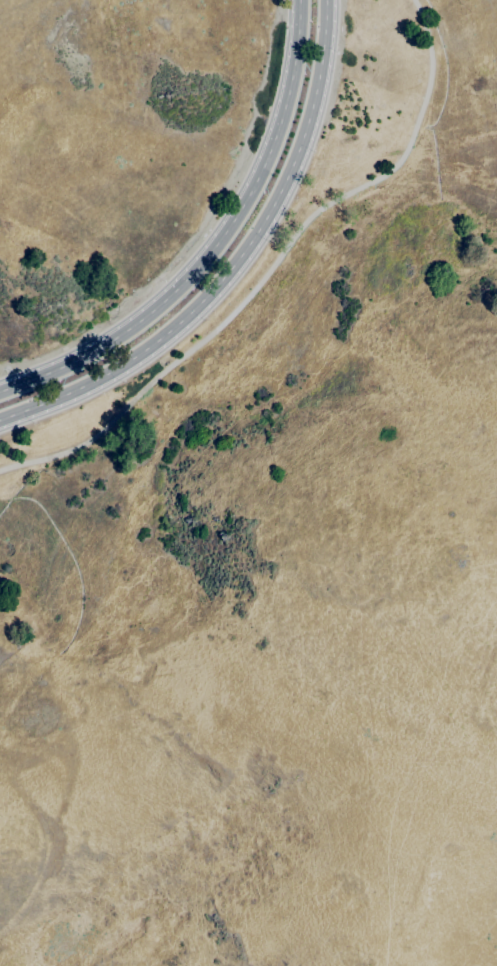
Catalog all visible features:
road: (214, 245)
road: (233, 263)
road: (270, 269)

